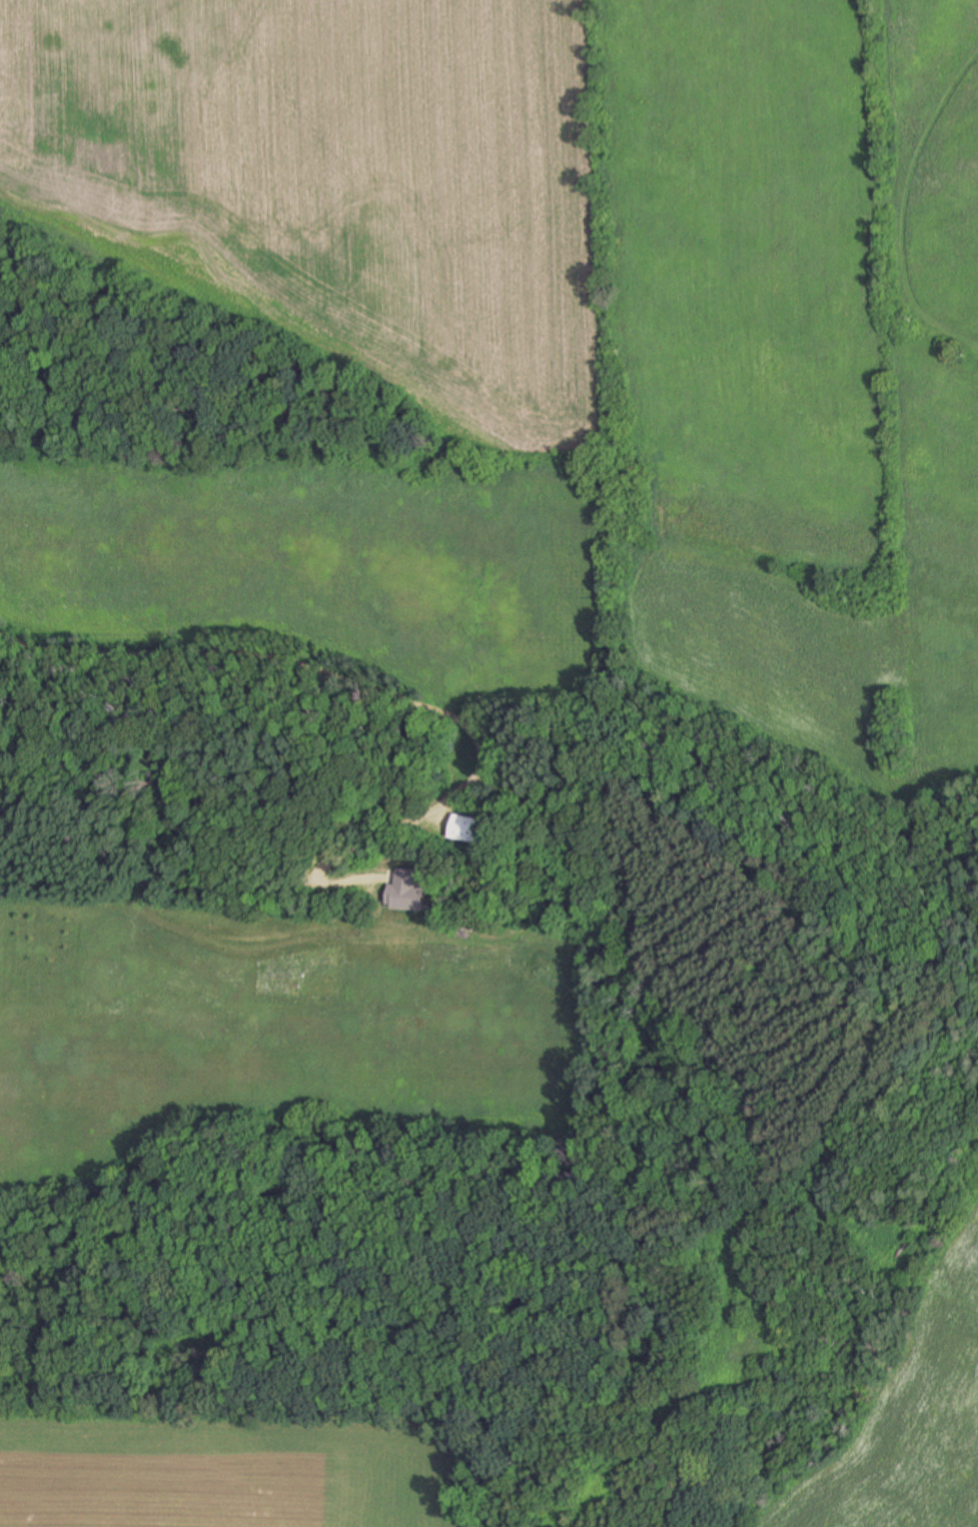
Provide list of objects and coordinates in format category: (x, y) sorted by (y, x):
road: (292, 661)
building: (471, 830)
building: (405, 886)

